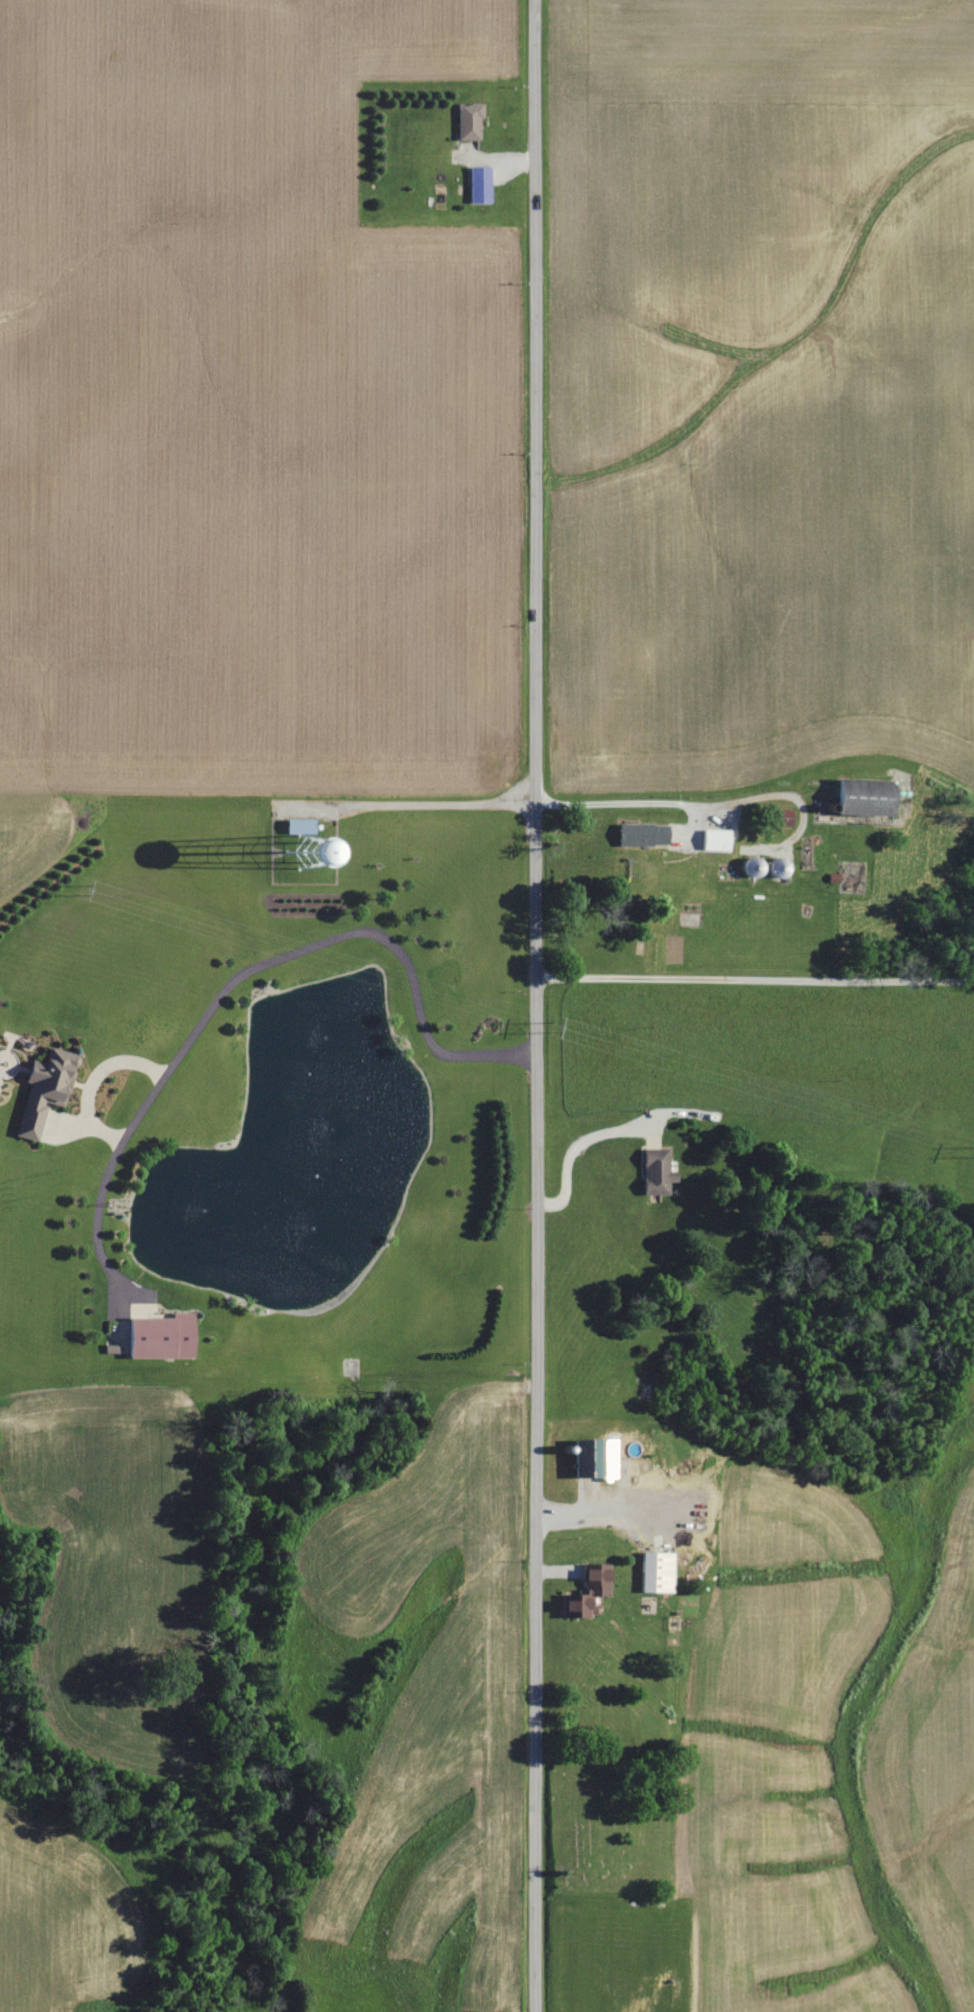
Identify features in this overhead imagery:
building: (467, 121)
building: (478, 186)
building: (860, 799)
road: (408, 804)
building: (782, 819)
building: (300, 824)
building: (640, 836)
building: (713, 841)
water tower: (303, 851)
power tower: (82, 889)
road: (255, 965)
road: (755, 978)
road: (535, 1006)
power tower: (555, 1028)
building: (43, 1091)
road: (575, 1148)
building: (654, 1172)
building: (157, 1337)
building: (591, 1459)
building: (653, 1573)

